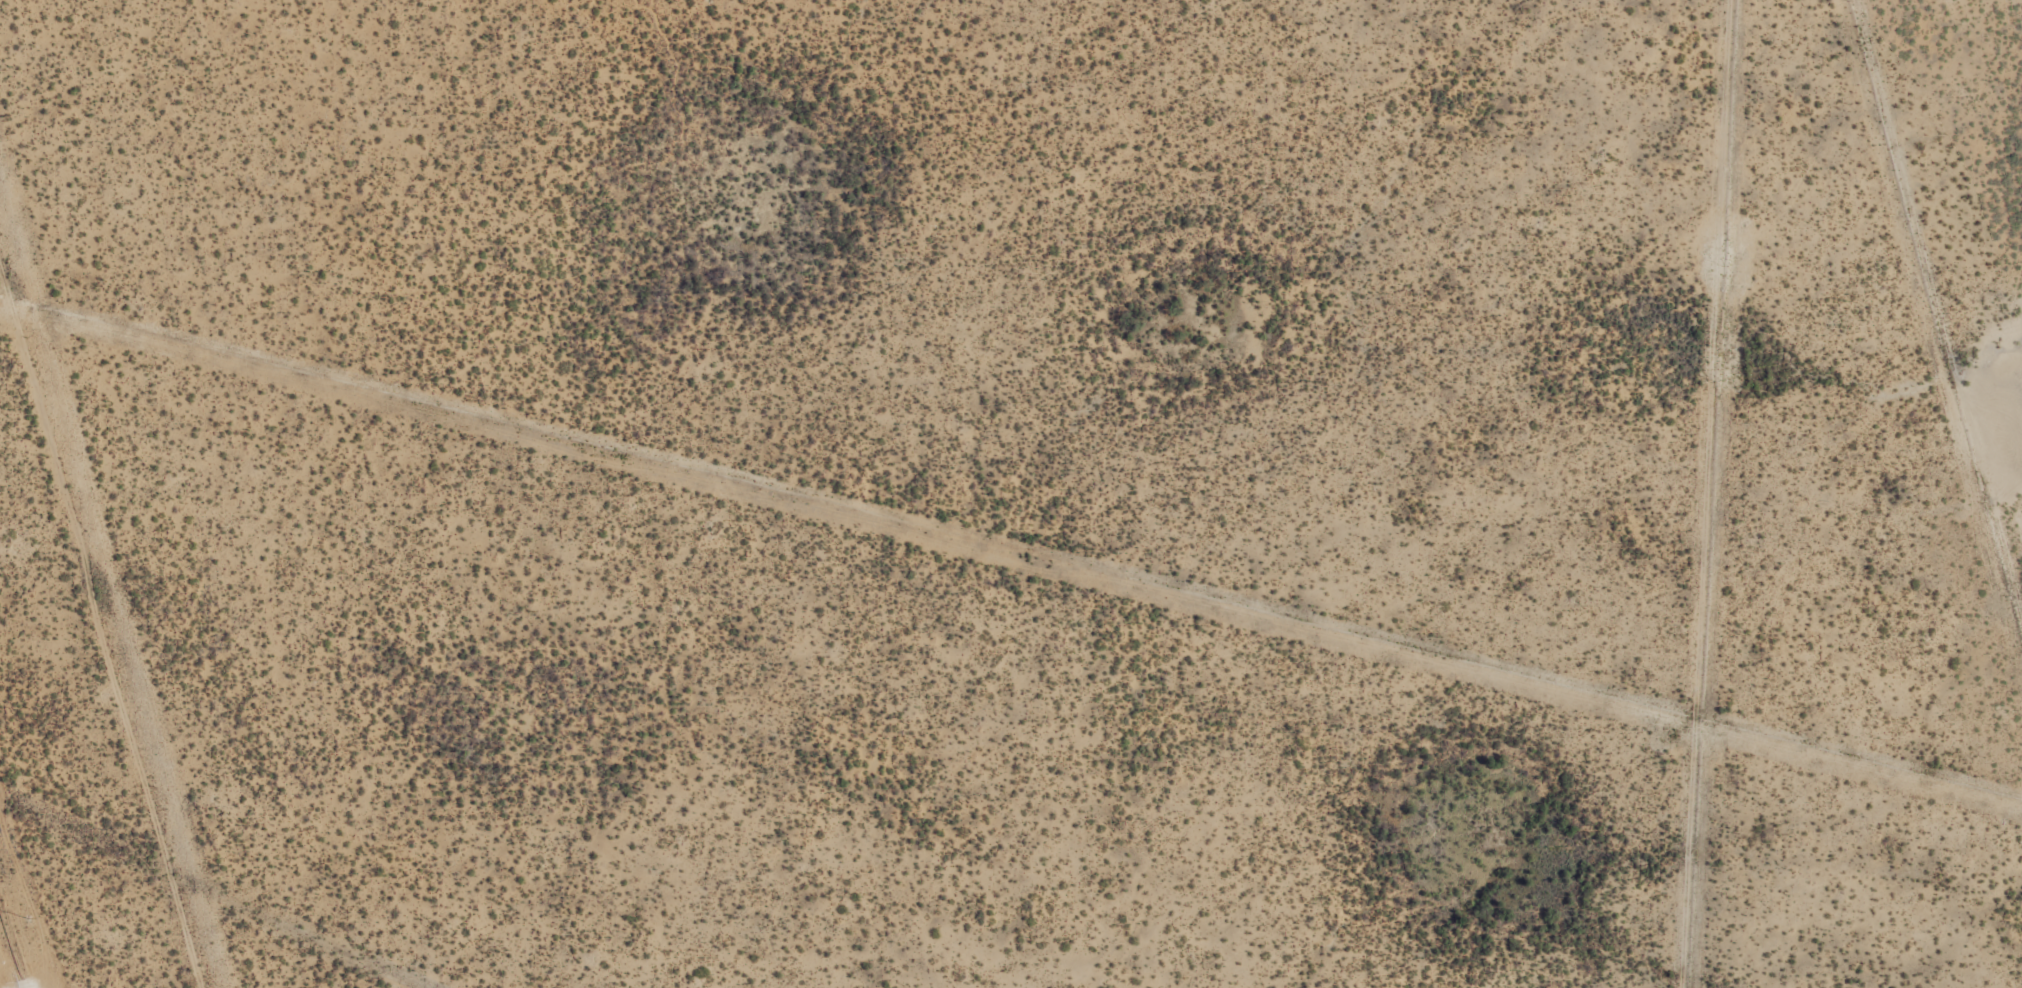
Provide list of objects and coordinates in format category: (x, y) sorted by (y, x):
road: (214, 894)
power tower: (26, 918)

